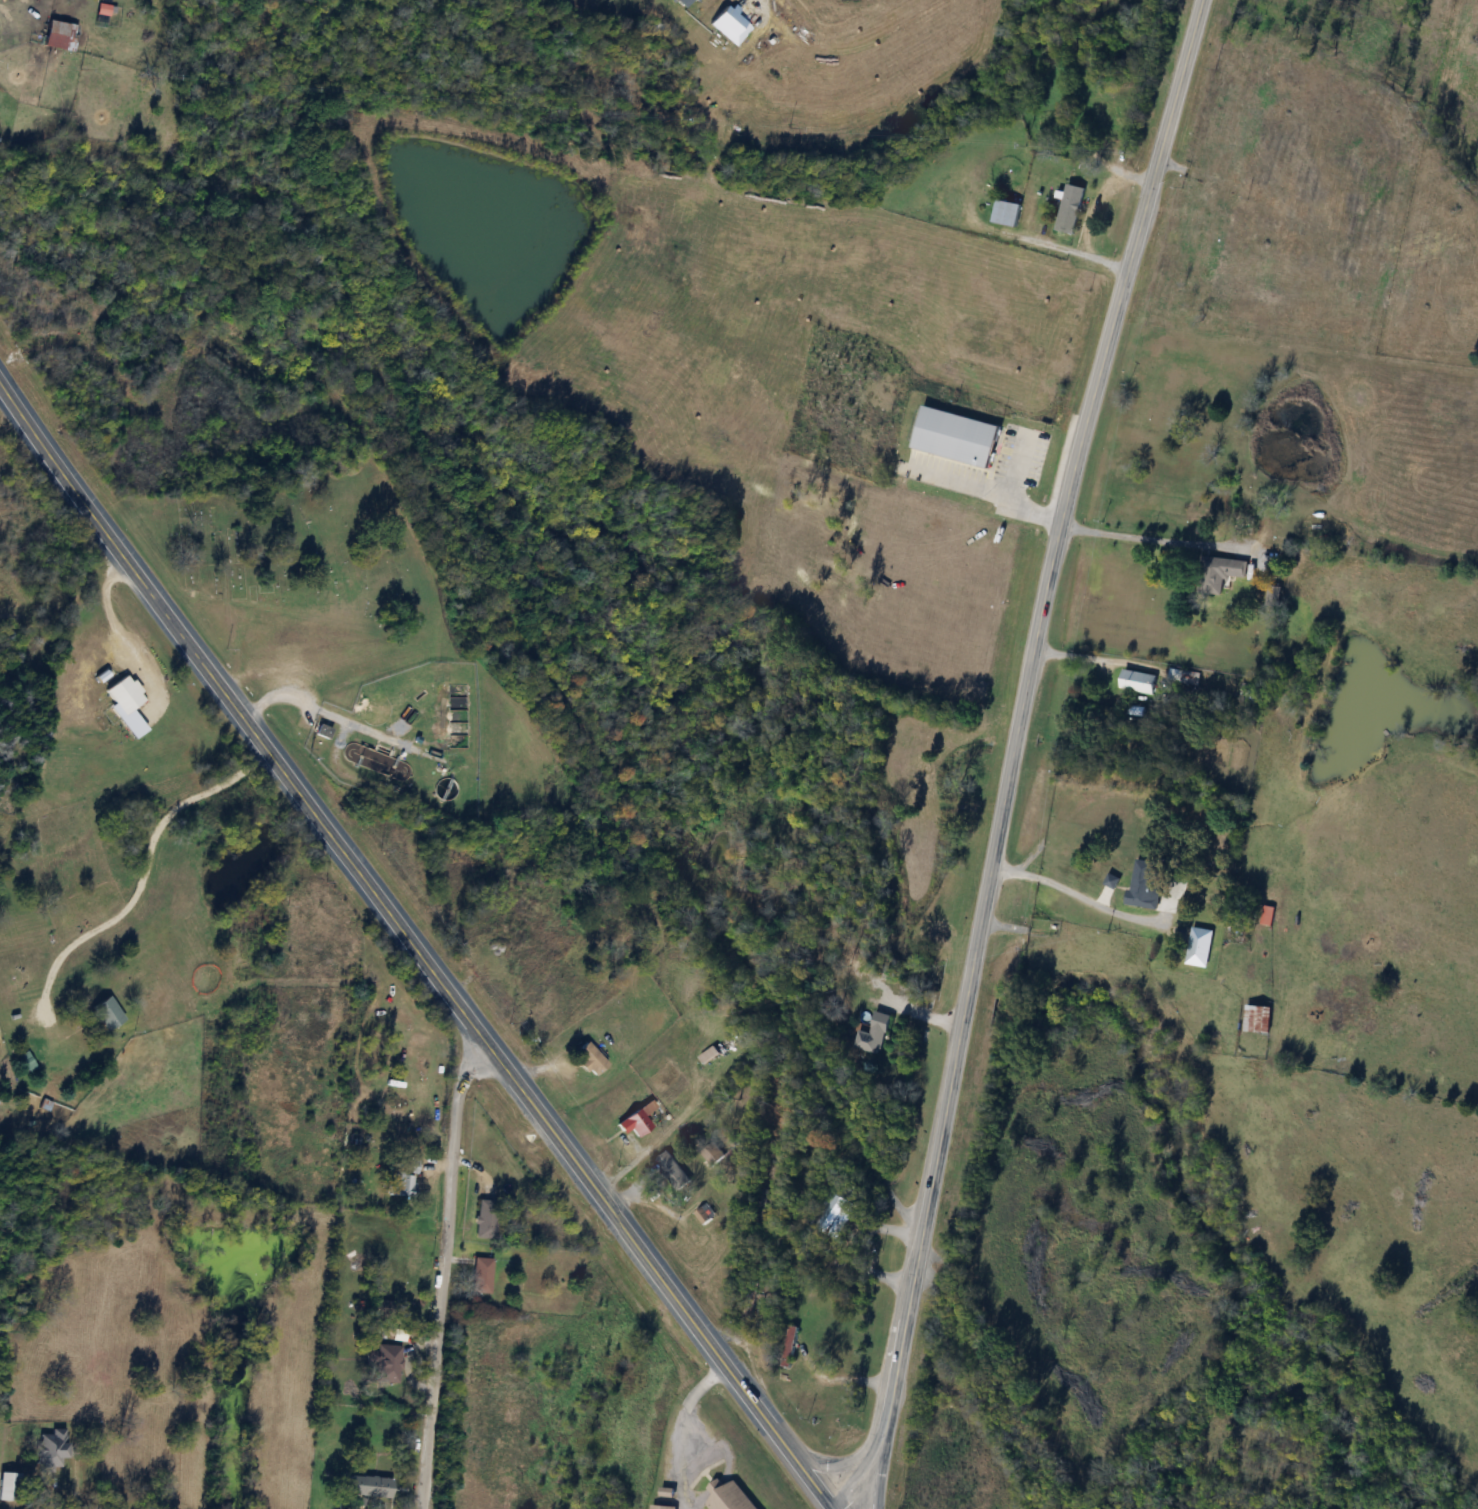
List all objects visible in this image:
building: (59, 35)
building: (1071, 210)
building: (1008, 214)
building: (1043, 228)
building: (956, 436)
road: (50, 441)
road: (1017, 469)
road: (990, 492)
road: (1133, 538)
park: (290, 558)
building: (1219, 573)
road: (116, 625)
road: (1087, 655)
building: (1183, 678)
building: (1138, 682)
building: (1247, 690)
building: (124, 694)
building: (323, 731)
road: (1015, 754)
railway: (634, 767)
road: (145, 869)
building: (1144, 885)
road: (1076, 893)
building: (1200, 947)
road: (915, 1008)
road: (468, 1010)
building: (107, 1013)
building: (1258, 1019)
building: (871, 1035)
building: (709, 1055)
building: (591, 1061)
building: (634, 1123)
building: (714, 1153)
building: (672, 1170)
building: (401, 1177)
building: (831, 1215)
building: (485, 1218)
road: (438, 1269)
building: (481, 1275)
building: (747, 1312)
building: (790, 1346)
building: (385, 1361)
building: (51, 1449)
road: (840, 1461)
road: (883, 1474)
building: (10, 1486)
building: (369, 1486)
building: (730, 1496)
building: (663, 1507)

